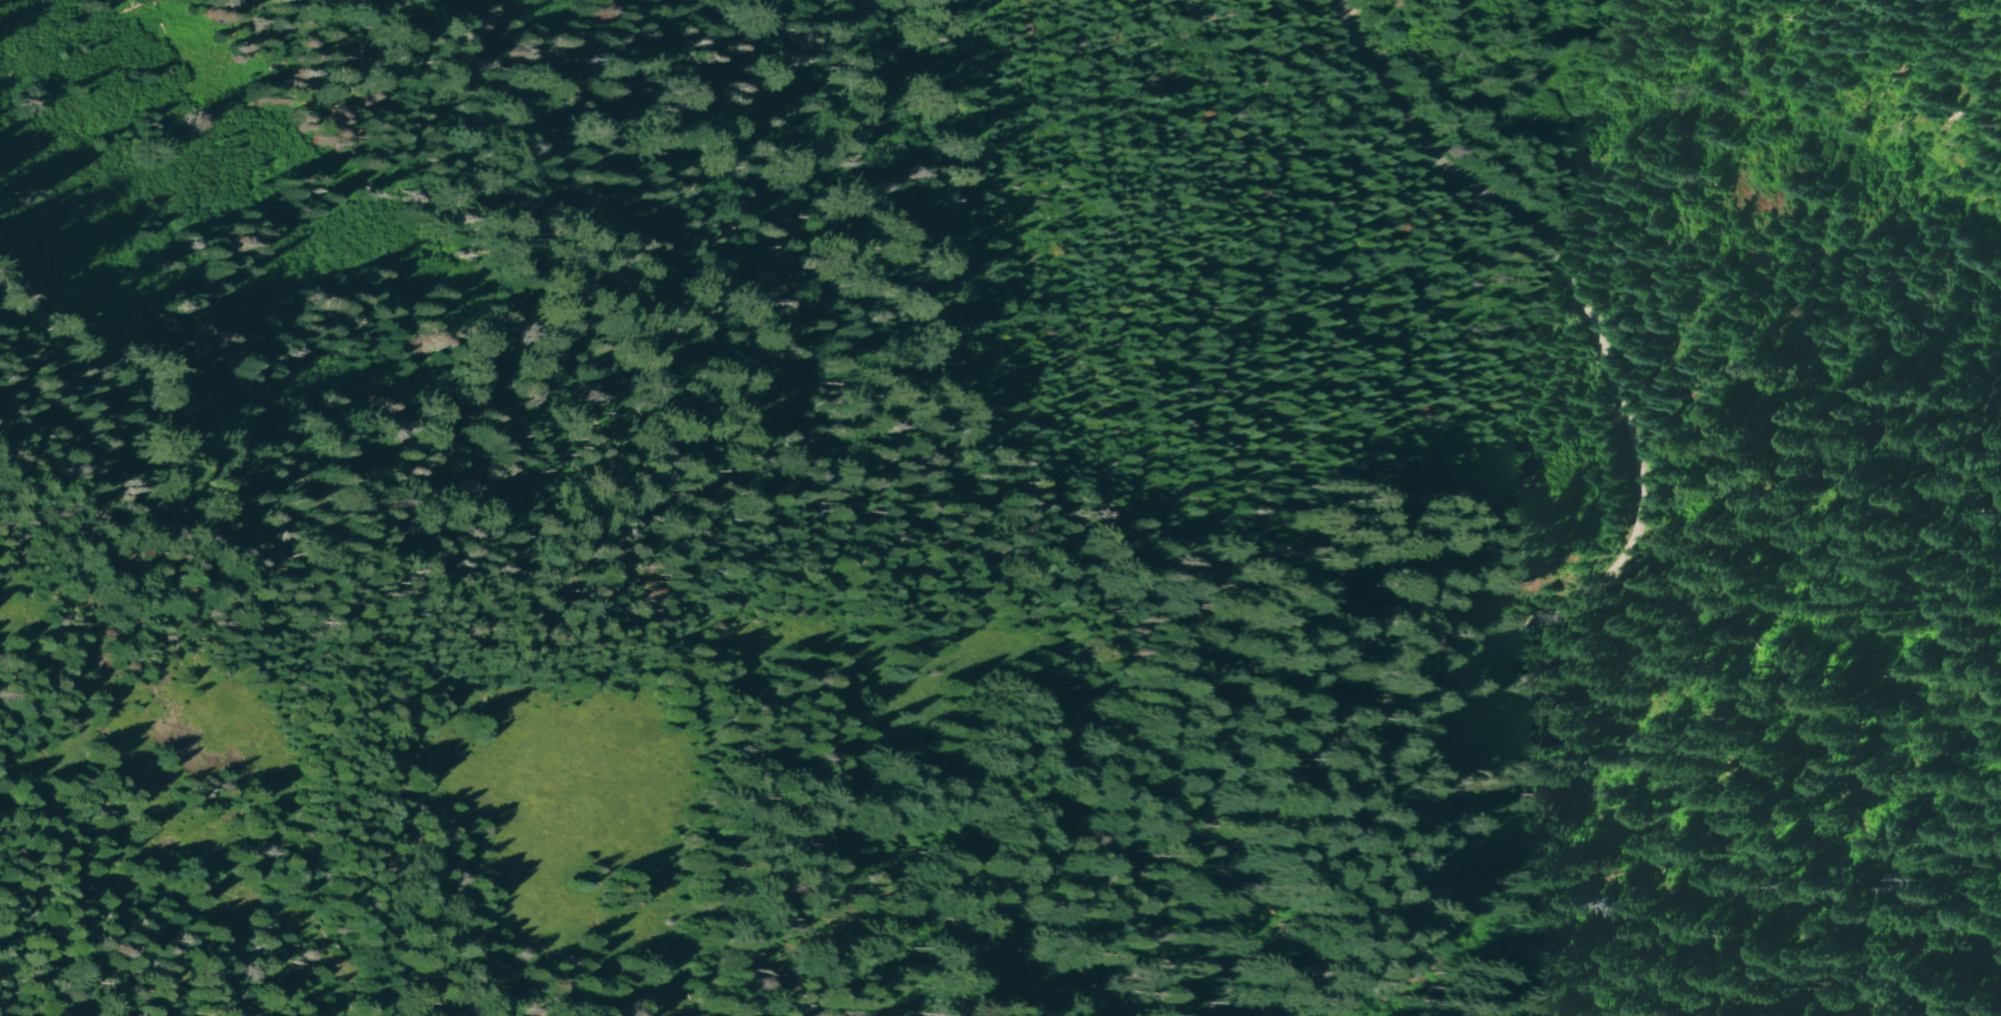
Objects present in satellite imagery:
road: (1623, 523)
road: (162, 873)

